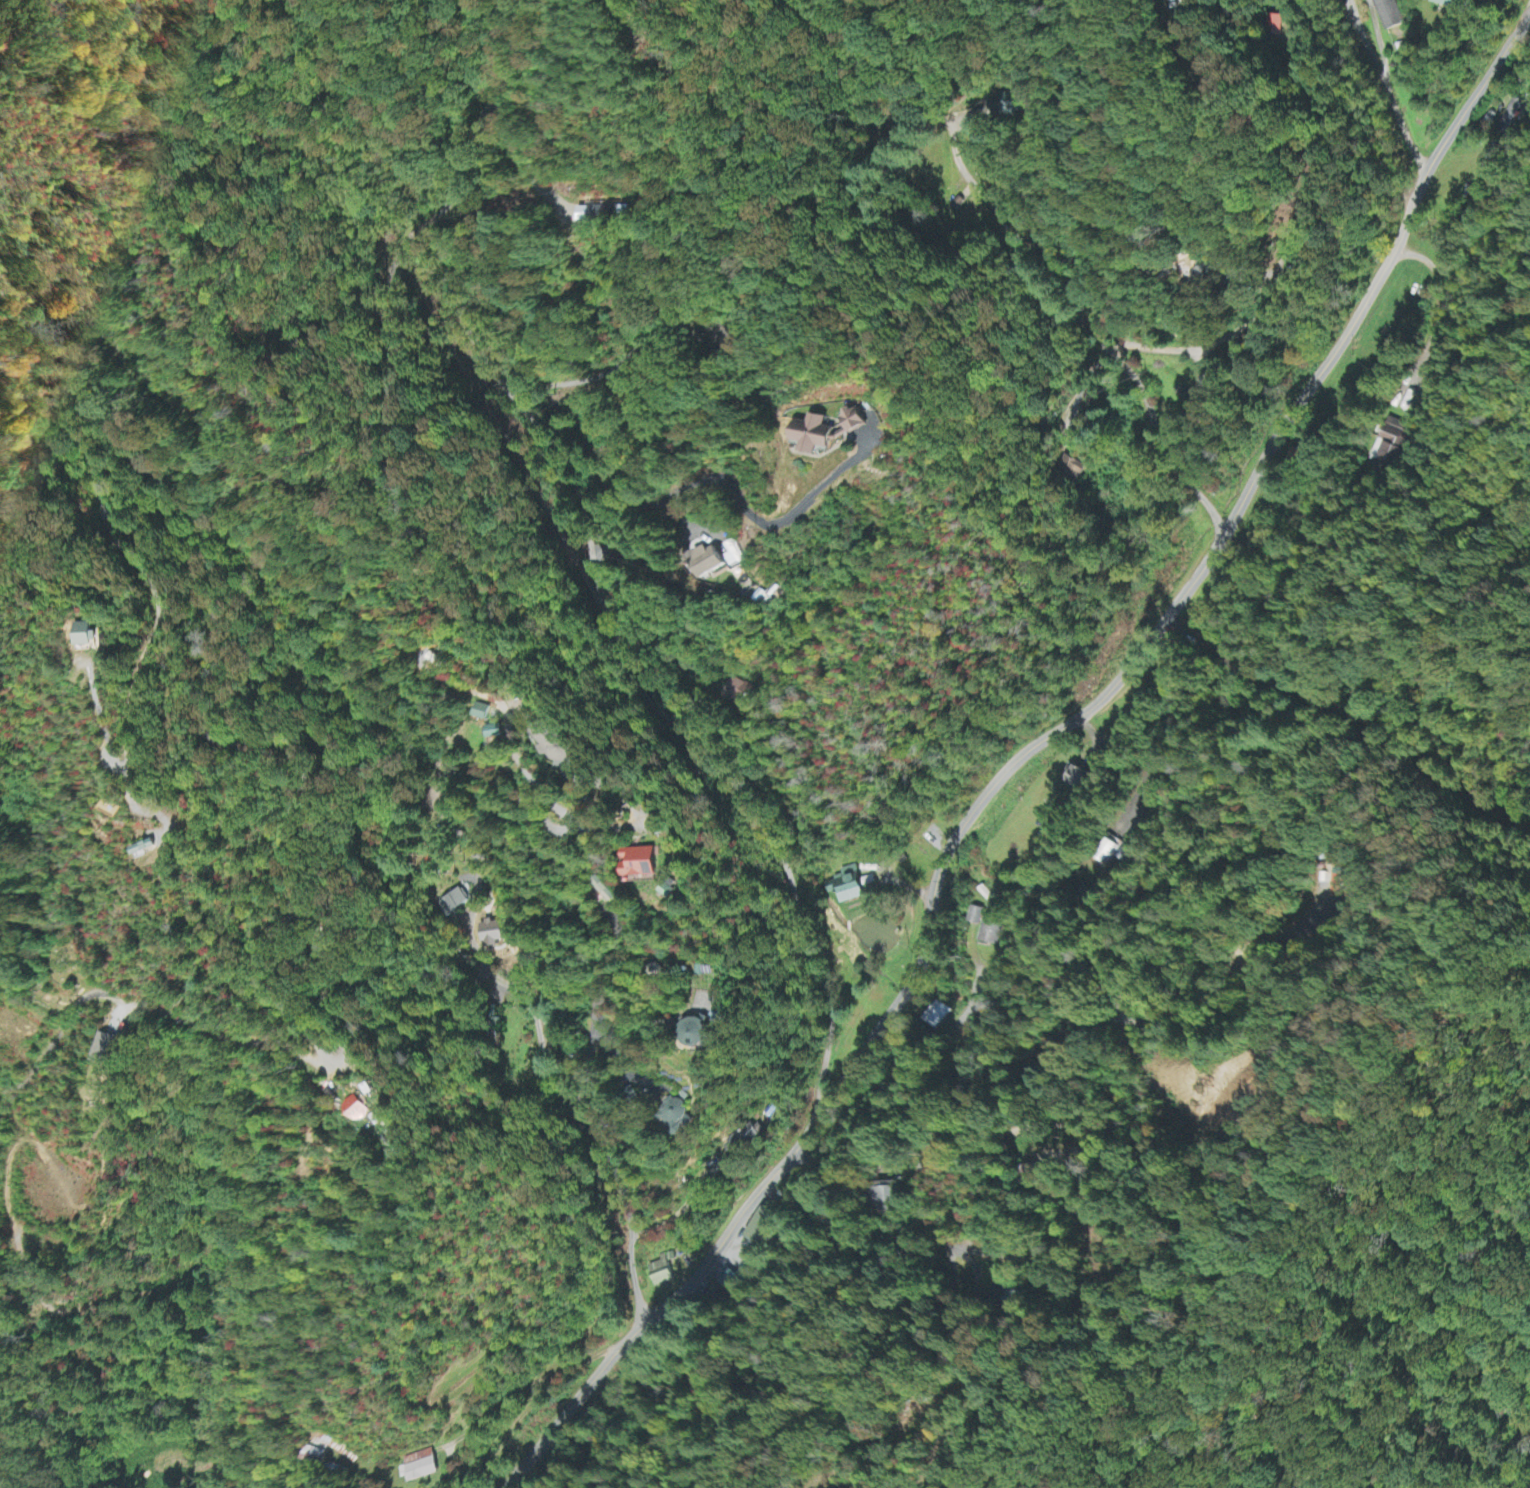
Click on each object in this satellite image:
building: (1463, 0)
building: (1445, 3)
building: (1389, 14)
building: (1274, 25)
road: (1382, 85)
road: (1264, 103)
building: (1512, 120)
building: (598, 215)
road: (974, 268)
building: (1202, 274)
road: (1227, 319)
road: (1099, 337)
road: (216, 419)
building: (851, 420)
building: (813, 434)
building: (1392, 443)
building: (1073, 467)
road: (718, 488)
road: (588, 549)
building: (709, 560)
road: (1181, 592)
building: (85, 635)
building: (737, 692)
building: (494, 731)
road: (1256, 740)
building: (554, 745)
building: (1076, 778)
road: (483, 815)
building: (142, 849)
building: (1108, 852)
building: (432, 855)
building: (640, 863)
building: (1338, 886)
building: (845, 889)
building: (601, 890)
building: (668, 891)
building: (454, 903)
road: (426, 912)
building: (975, 916)
building: (991, 925)
building: (493, 932)
road: (260, 953)
road: (142, 1008)
building: (696, 1033)
building: (104, 1049)
building: (356, 1110)
building: (679, 1116)
road: (974, 1140)
building: (1031, 1178)
building: (888, 1198)
building: (763, 1229)
building: (660, 1274)
road: (652, 1313)
road: (769, 1325)
building: (324, 1450)
building: (418, 1467)

